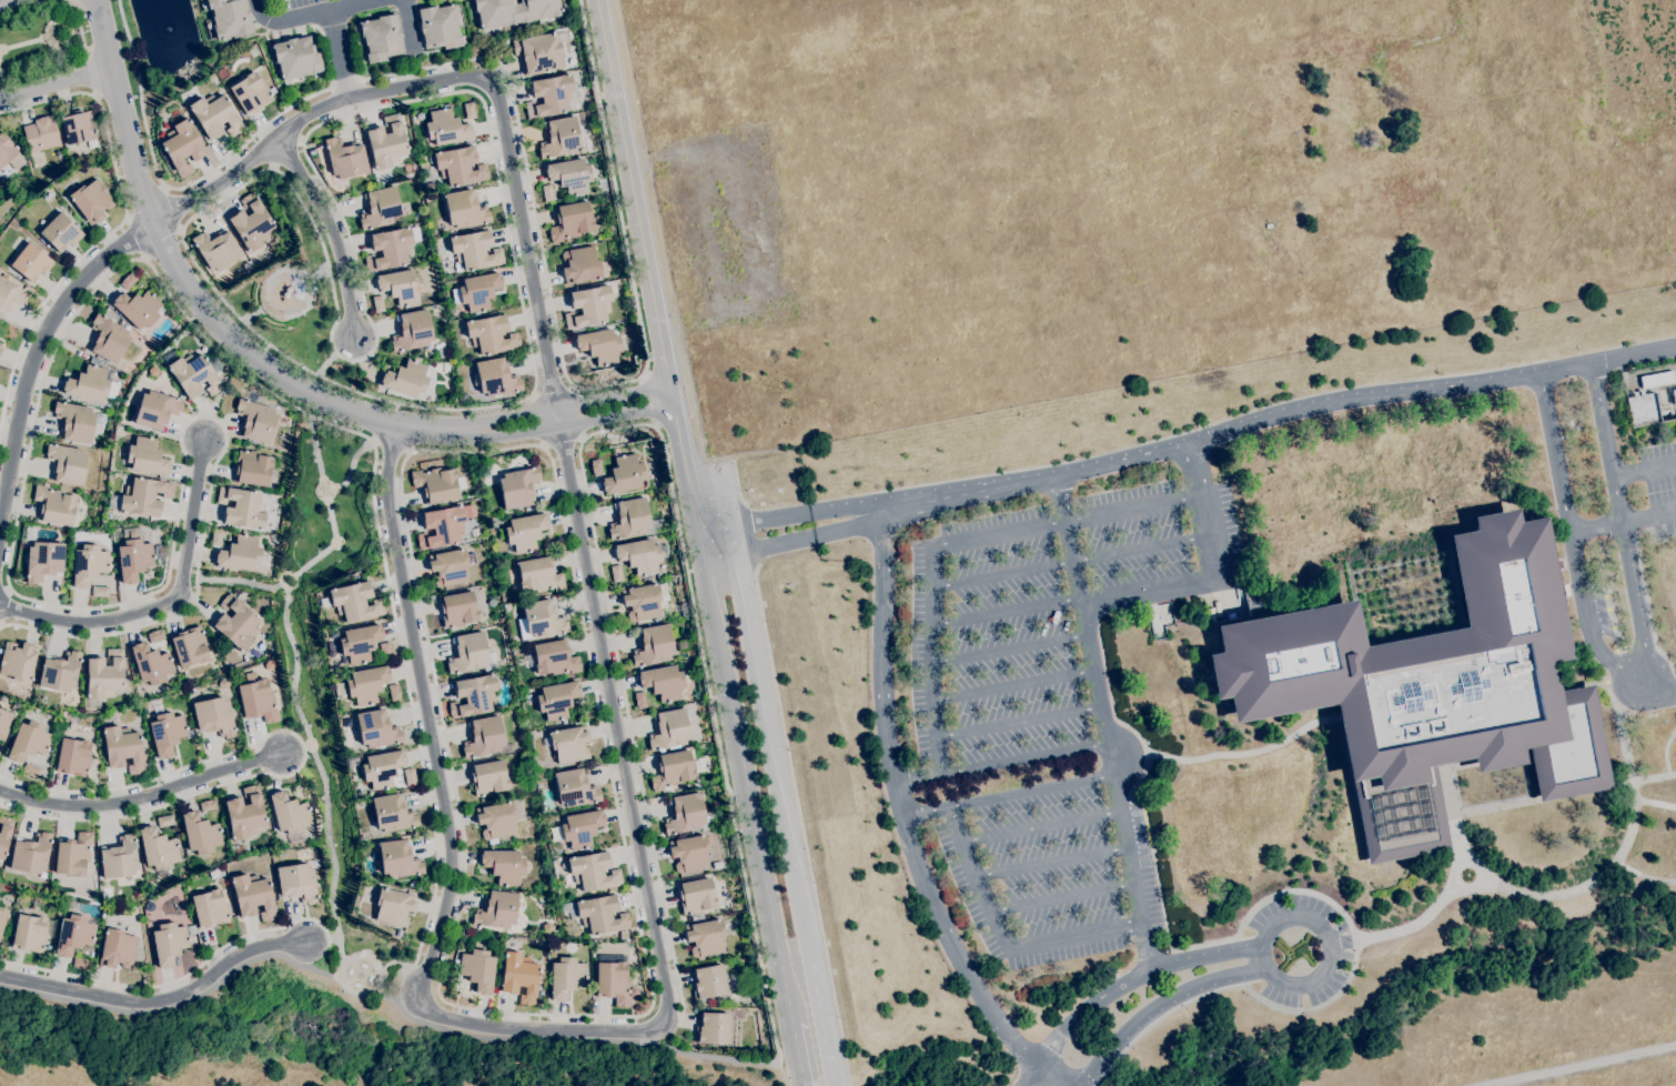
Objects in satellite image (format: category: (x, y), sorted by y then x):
road: (7, 1)
building: (514, 11)
road: (311, 14)
building: (230, 18)
road: (407, 26)
building: (438, 27)
building: (381, 38)
park: (42, 41)
building: (541, 51)
road: (339, 54)
building: (295, 58)
road: (472, 74)
road: (387, 76)
road: (55, 84)
building: (251, 93)
building: (579, 93)
building: (549, 95)
building: (468, 110)
building: (160, 112)
building: (214, 115)
building: (78, 127)
building: (445, 128)
building: (41, 134)
building: (559, 138)
building: (386, 142)
building: (182, 147)
building: (9, 152)
building: (345, 158)
building: (458, 165)
building: (569, 175)
building: (547, 193)
building: (91, 200)
road: (147, 204)
building: (380, 208)
road: (171, 209)
building: (464, 209)
building: (571, 221)
building: (251, 223)
road: (622, 223)
road: (115, 228)
road: (331, 230)
building: (60, 232)
road: (135, 235)
road: (162, 240)
building: (388, 249)
building: (216, 250)
building: (474, 250)
building: (30, 262)
building: (579, 264)
building: (249, 265)
building: (128, 281)
building: (401, 285)
road: (649, 285)
building: (476, 291)
road: (193, 293)
building: (10, 295)
building: (377, 303)
building: (588, 306)
building: (138, 308)
road: (65, 329)
building: (412, 331)
building: (491, 334)
building: (108, 339)
building: (0, 344)
building: (599, 345)
building: (0, 349)
road: (286, 355)
road: (39, 356)
road: (329, 365)
building: (226, 370)
building: (153, 371)
building: (194, 375)
building: (494, 378)
building: (405, 379)
building: (1656, 380)
building: (91, 384)
road: (552, 391)
road: (649, 400)
road: (564, 406)
building: (1642, 409)
building: (157, 410)
road: (1274, 418)
building: (255, 420)
building: (77, 421)
road: (565, 424)
road: (647, 424)
road: (562, 441)
road: (392, 445)
building: (616, 451)
building: (147, 456)
building: (67, 463)
building: (252, 467)
road: (351, 467)
building: (596, 467)
road: (1197, 470)
road: (1644, 470)
building: (624, 474)
building: (437, 484)
building: (517, 486)
building: (141, 496)
building: (54, 505)
building: (242, 507)
road: (790, 515)
building: (633, 520)
road: (1621, 522)
road: (1623, 522)
building: (474, 523)
building: (444, 525)
building: (525, 532)
building: (77, 533)
building: (216, 537)
road: (1572, 540)
road: (797, 541)
road: (953, 542)
building: (161, 552)
building: (240, 554)
building: (133, 555)
building: (638, 555)
road: (754, 557)
building: (43, 560)
road: (1070, 560)
building: (88, 564)
building: (448, 567)
building: (616, 573)
building: (538, 575)
road: (243, 583)
road: (1192, 587)
building: (100, 591)
building: (645, 601)
road: (168, 602)
building: (323, 602)
building: (354, 602)
building: (457, 609)
building: (684, 610)
road: (1002, 611)
building: (539, 621)
road: (1614, 621)
building: (236, 623)
building: (331, 634)
building: (155, 635)
building: (359, 643)
building: (329, 645)
building: (653, 645)
building: (190, 646)
road: (1007, 646)
building: (385, 650)
building: (331, 653)
building: (467, 653)
building: (554, 657)
building: (18, 661)
building: (151, 664)
road: (1611, 670)
building: (60, 672)
building: (104, 675)
building: (663, 682)
road: (1604, 682)
building: (223, 684)
building: (366, 684)
road: (1011, 685)
road: (1659, 687)
road: (296, 688)
building: (1430, 688)
building: (339, 690)
building: (394, 692)
building: (473, 696)
building: (3, 698)
building: (556, 700)
building: (639, 700)
building: (258, 701)
building: (16, 706)
building: (213, 716)
road: (1017, 722)
building: (4, 723)
road: (1102, 726)
building: (376, 730)
building: (668, 730)
building: (165, 733)
building: (483, 737)
building: (28, 741)
building: (568, 744)
parking lot: (1024, 747)
building: (122, 748)
road: (303, 750)
road: (1666, 752)
road: (310, 754)
building: (73, 756)
road: (770, 756)
road: (1001, 761)
building: (351, 762)
building: (382, 768)
building: (30, 770)
building: (672, 770)
building: (410, 776)
building: (488, 777)
road: (1643, 781)
building: (574, 788)
road: (1006, 794)
road: (142, 796)
road: (747, 796)
building: (206, 805)
building: (289, 813)
building: (244, 814)
building: (392, 814)
building: (685, 814)
road: (902, 819)
building: (164, 821)
building: (496, 821)
road: (800, 824)
road: (1041, 824)
building: (580, 828)
building: (4, 833)
building: (200, 833)
building: (158, 848)
building: (688, 853)
building: (31, 854)
building: (73, 855)
building: (119, 857)
building: (397, 858)
road: (1051, 862)
building: (503, 865)
building: (592, 872)
road: (1604, 877)
building: (296, 883)
building: (413, 884)
road: (1158, 889)
building: (253, 896)
building: (696, 896)
building: (104, 897)
building: (38, 899)
road: (1063, 899)
building: (541, 901)
building: (150, 904)
building: (393, 907)
building: (210, 908)
building: (496, 911)
building: (600, 914)
building: (2, 919)
road: (1424, 925)
building: (547, 928)
building: (29, 933)
road: (1331, 934)
building: (73, 935)
building: (623, 935)
building: (705, 937)
road: (321, 939)
road: (1004, 941)
building: (168, 943)
building: (117, 948)
building: (139, 958)
building: (81, 963)
building: (477, 969)
building: (518, 977)
building: (565, 977)
road: (178, 978)
building: (614, 981)
road: (1120, 981)
building: (708, 982)
road: (16, 991)
road: (1336, 993)
road: (158, 999)
road: (55, 1003)
road: (1161, 1009)
road: (619, 1015)
road: (681, 1019)
road: (820, 1019)
road: (414, 1020)
building: (713, 1028)
road: (549, 1029)
park: (314, 1045)
road: (798, 1055)
road: (1595, 1069)

